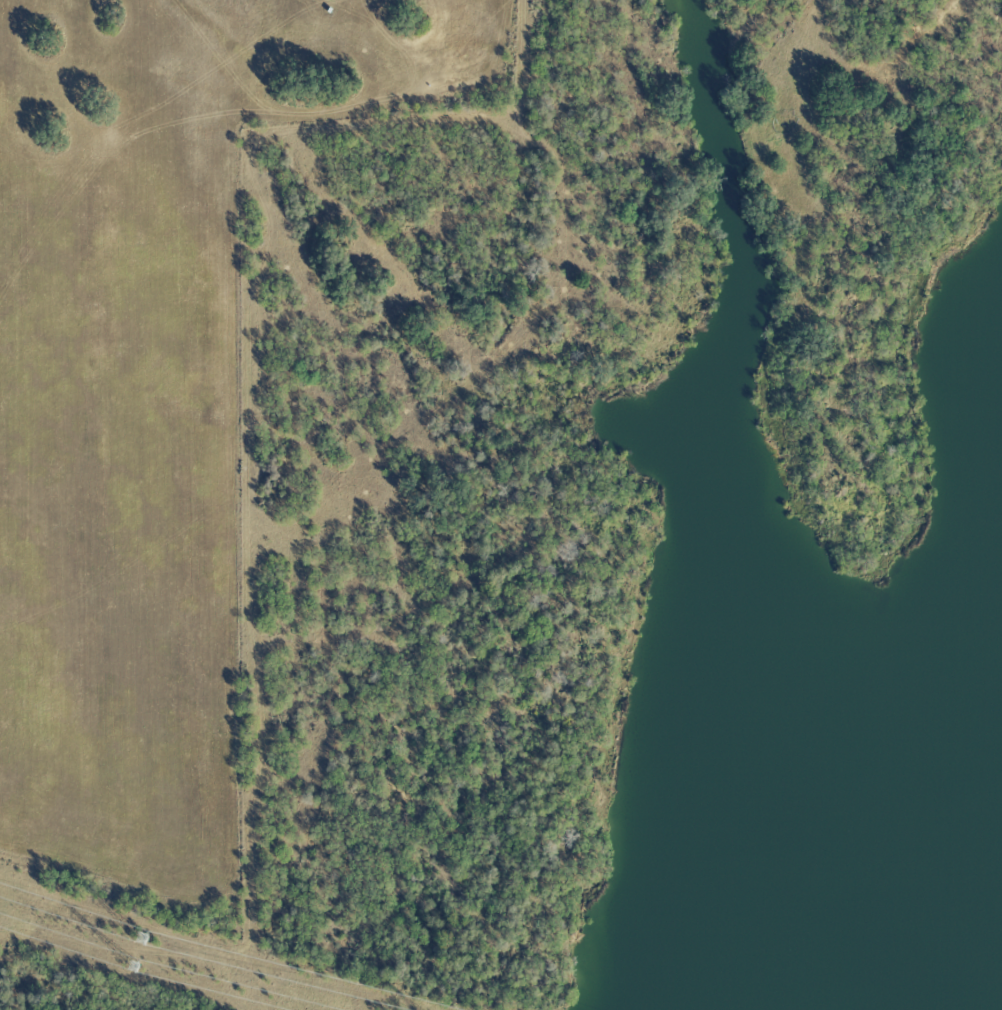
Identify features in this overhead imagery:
power tower: (144, 943)
power tower: (148, 975)

